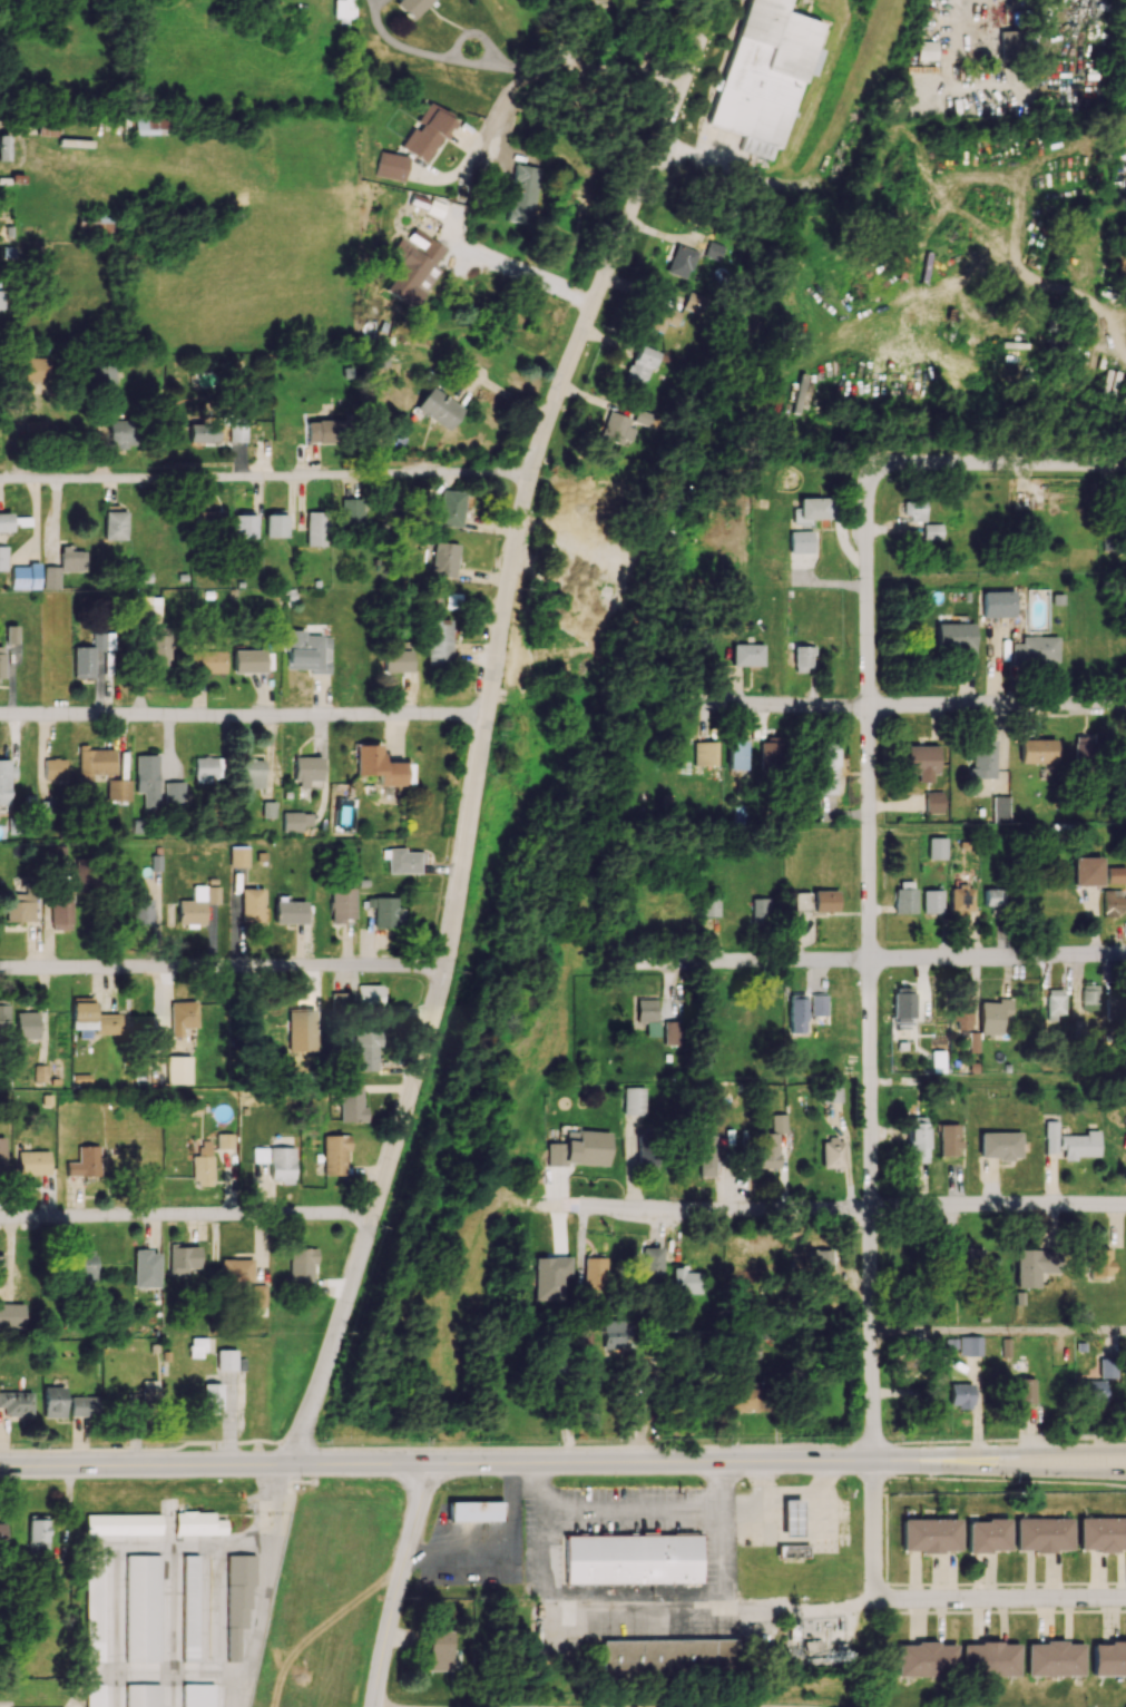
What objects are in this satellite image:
building: (411, 7)
building: (344, 8)
road: (653, 38)
building: (1009, 40)
road: (559, 41)
road: (395, 43)
building: (927, 50)
road: (449, 59)
road: (613, 72)
building: (765, 75)
road: (682, 87)
building: (150, 124)
building: (46, 128)
building: (427, 133)
road: (26, 143)
building: (4, 147)
building: (391, 166)
road: (644, 189)
building: (521, 194)
building: (95, 224)
building: (1120, 261)
building: (681, 262)
building: (414, 266)
road: (527, 281)
building: (0, 300)
road: (1119, 316)
building: (665, 320)
road: (1019, 340)
road: (1114, 340)
building: (383, 353)
building: (640, 366)
building: (37, 369)
building: (105, 380)
building: (439, 409)
building: (624, 426)
building: (35, 428)
building: (237, 429)
building: (204, 431)
building: (321, 431)
building: (120, 433)
road: (539, 444)
road: (266, 477)
building: (450, 508)
building: (814, 508)
building: (351, 510)
building: (914, 510)
building: (591, 517)
building: (209, 520)
building: (6, 522)
building: (275, 523)
building: (115, 524)
building: (244, 526)
building: (316, 528)
building: (932, 531)
building: (1112, 539)
building: (801, 541)
building: (3, 558)
building: (444, 559)
building: (65, 567)
building: (25, 577)
building: (997, 604)
building: (151, 607)
building: (11, 634)
building: (956, 638)
building: (439, 641)
building: (159, 646)
building: (1034, 650)
building: (306, 651)
building: (88, 655)
building: (747, 655)
building: (399, 658)
building: (803, 659)
building: (210, 660)
building: (248, 660)
building: (1, 664)
road: (907, 704)
road: (244, 717)
building: (1123, 748)
building: (1084, 749)
building: (1036, 752)
building: (770, 753)
building: (706, 754)
building: (736, 755)
building: (829, 756)
building: (982, 758)
building: (921, 762)
building: (94, 763)
building: (380, 766)
building: (207, 768)
building: (55, 771)
building: (306, 771)
building: (252, 773)
building: (147, 779)
building: (4, 781)
building: (828, 784)
building: (118, 789)
building: (174, 792)
building: (933, 802)
building: (999, 808)
building: (295, 821)
building: (937, 847)
building: (238, 856)
building: (402, 860)
building: (1086, 871)
building: (1116, 874)
building: (904, 896)
building: (992, 896)
building: (960, 900)
building: (824, 901)
building: (932, 901)
building: (1114, 902)
building: (197, 904)
building: (251, 904)
building: (341, 904)
road: (870, 905)
building: (20, 906)
building: (709, 906)
building: (141, 909)
building: (383, 910)
building: (761, 910)
building: (288, 912)
road: (875, 964)
road: (221, 969)
building: (369, 998)
building: (1088, 999)
building: (1054, 1002)
building: (340, 1003)
building: (903, 1003)
building: (817, 1004)
building: (1109, 1007)
building: (962, 1012)
building: (796, 1013)
building: (3, 1014)
building: (647, 1016)
building: (182, 1018)
building: (996, 1018)
building: (26, 1024)
building: (300, 1030)
building: (674, 1032)
building: (973, 1041)
building: (366, 1050)
building: (937, 1061)
building: (177, 1069)
building: (80, 1080)
road: (412, 1088)
building: (830, 1092)
building: (352, 1102)
building: (917, 1139)
building: (948, 1139)
building: (224, 1140)
building: (770, 1142)
building: (1070, 1142)
building: (999, 1145)
building: (579, 1149)
building: (832, 1152)
building: (2, 1154)
building: (335, 1154)
building: (707, 1155)
building: (276, 1161)
building: (33, 1162)
building: (84, 1162)
building: (202, 1170)
road: (836, 1207)
road: (186, 1217)
building: (969, 1258)
building: (183, 1260)
building: (1098, 1263)
building: (650, 1264)
building: (85, 1266)
building: (302, 1266)
building: (1029, 1267)
building: (146, 1268)
building: (2, 1269)
building: (236, 1269)
building: (594, 1269)
building: (686, 1279)
building: (258, 1295)
building: (11, 1316)
road: (1000, 1332)
building: (615, 1333)
building: (970, 1345)
building: (197, 1347)
building: (226, 1360)
building: (149, 1392)
building: (1091, 1392)
building: (1024, 1393)
building: (960, 1395)
building: (212, 1396)
building: (745, 1400)
building: (53, 1402)
building: (16, 1403)
building: (84, 1406)
road: (561, 1444)
road: (999, 1452)
road: (437, 1463)
road: (999, 1469)
road: (1000, 1480)
road: (806, 1492)
road: (762, 1508)
building: (474, 1511)
road: (630, 1511)
building: (791, 1518)
building: (123, 1523)
building: (200, 1523)
building: (1, 1532)
building: (1101, 1533)
building: (37, 1534)
building: (1042, 1534)
building: (928, 1536)
building: (987, 1536)
road: (801, 1540)
road: (126, 1550)
building: (792, 1551)
building: (631, 1558)
road: (723, 1563)
road: (540, 1566)
road: (265, 1585)
road: (398, 1585)
road: (999, 1596)
building: (237, 1600)
building: (95, 1608)
building: (141, 1608)
building: (188, 1608)
road: (711, 1617)
building: (439, 1650)
building: (815, 1652)
building: (672, 1657)
building: (1054, 1658)
building: (926, 1659)
building: (989, 1659)
building: (1108, 1659)
road: (116, 1680)
building: (95, 1695)
building: (141, 1695)
building: (197, 1695)

